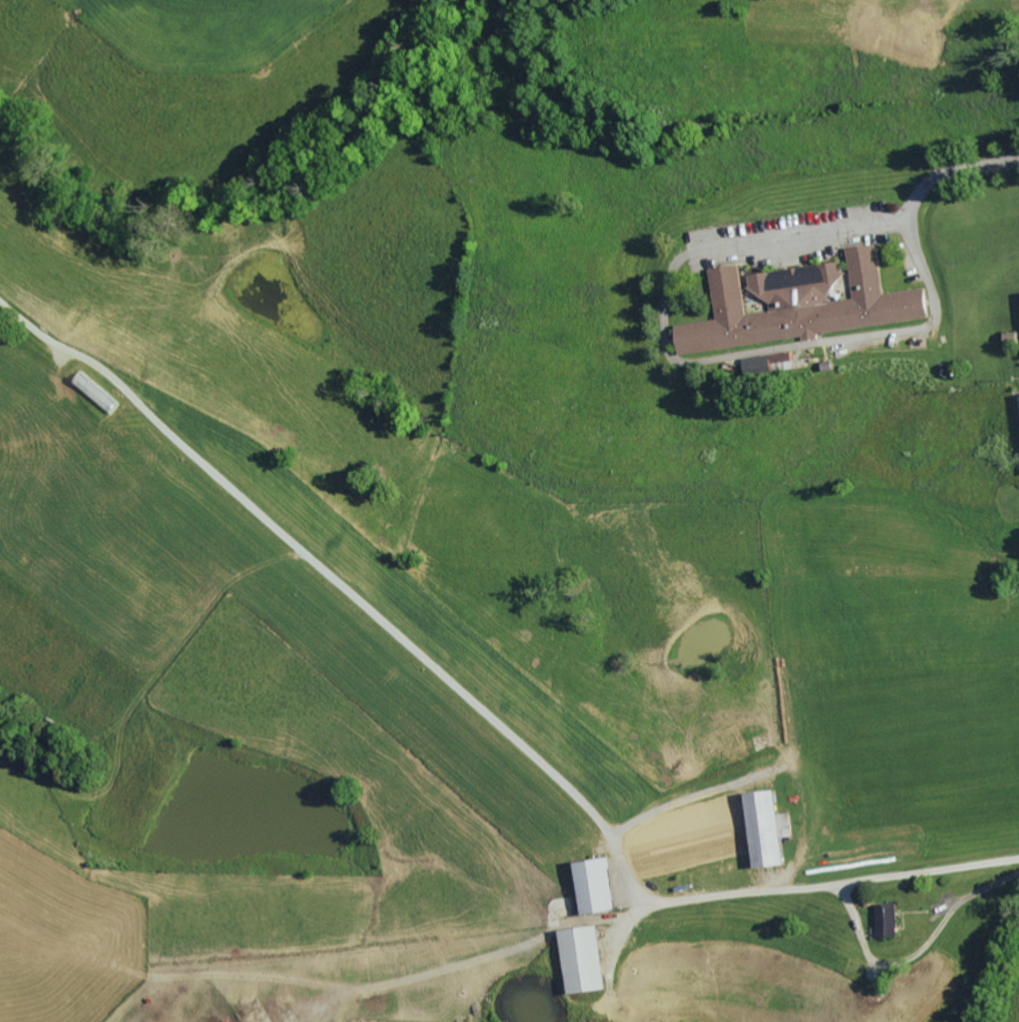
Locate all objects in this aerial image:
road: (953, 173)
road: (804, 235)
building: (801, 304)
road: (798, 344)
building: (768, 361)
building: (772, 828)
building: (600, 885)
building: (891, 919)
building: (589, 959)

